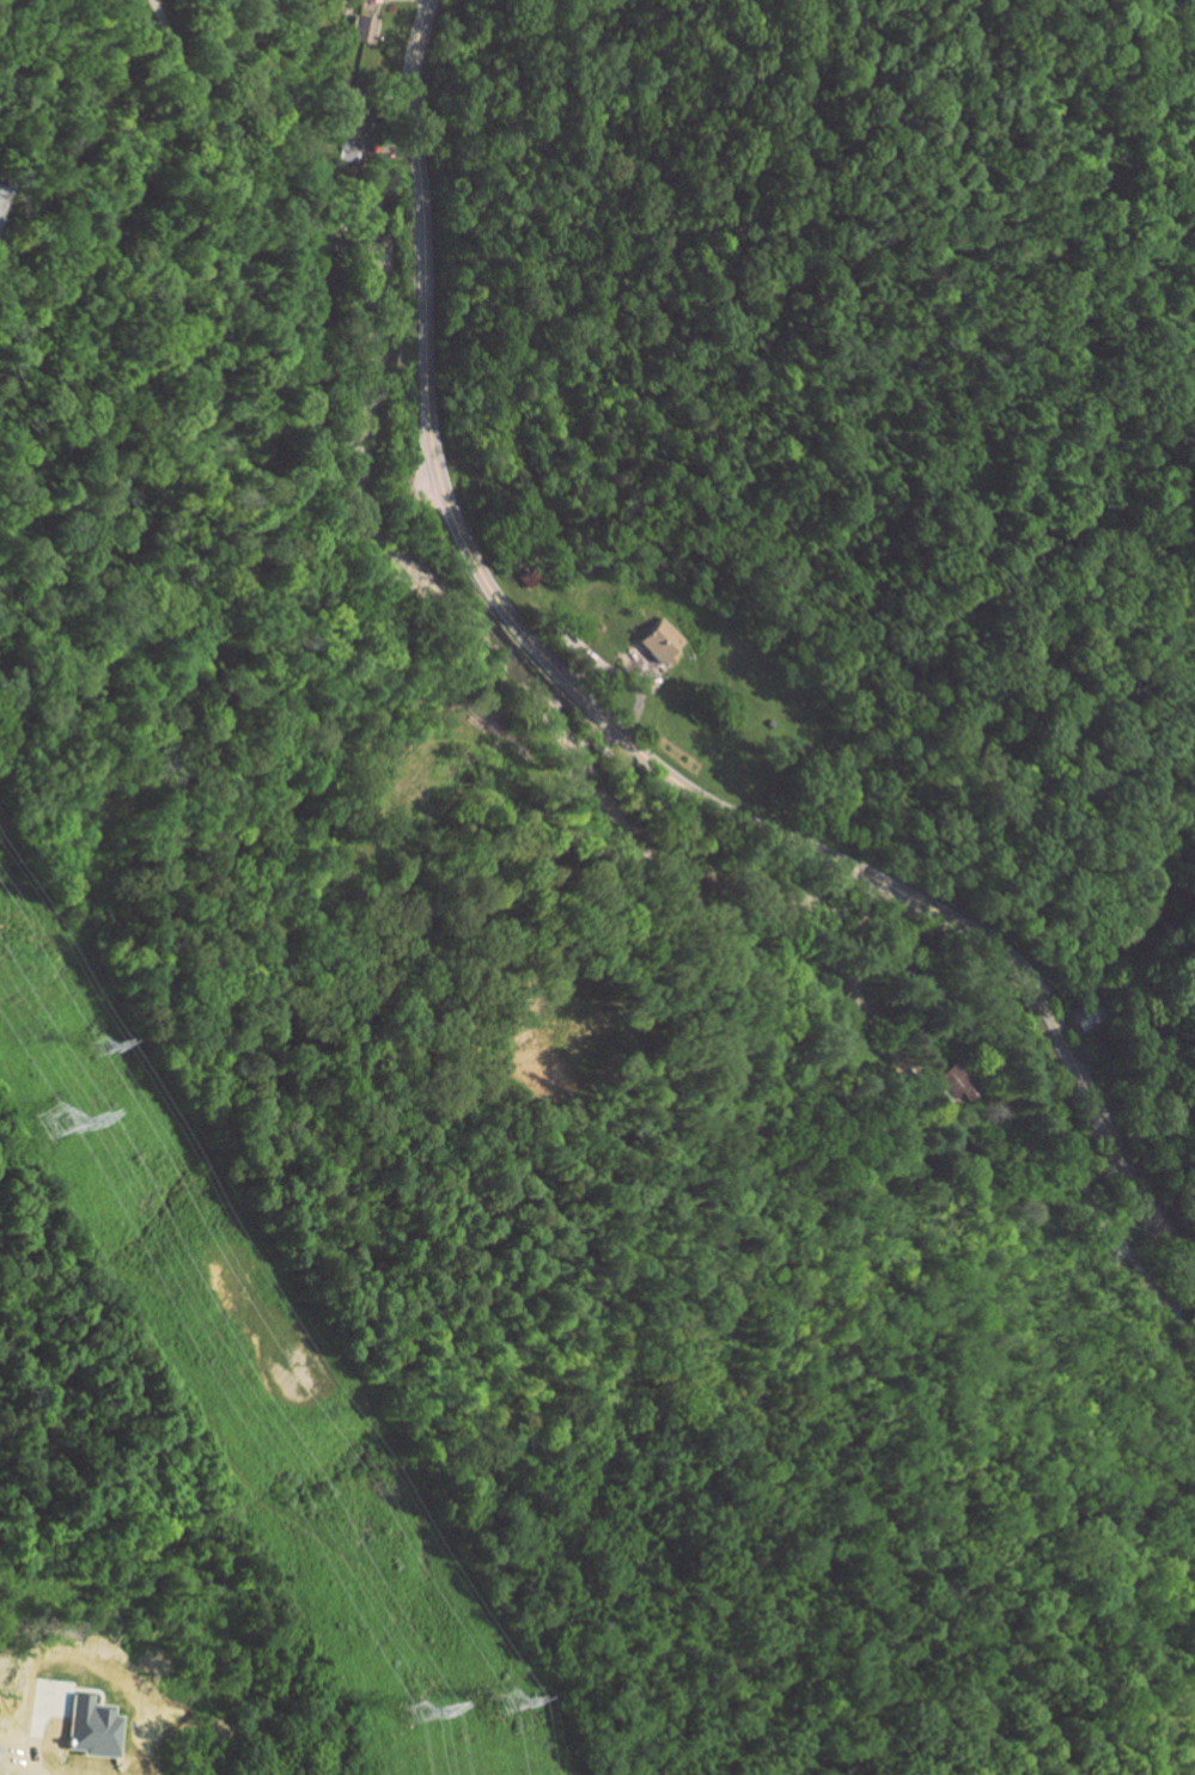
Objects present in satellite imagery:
road: (169, 47)
road: (145, 170)
building: (663, 640)
road: (627, 740)
building: (1089, 1013)
power tower: (98, 1048)
power tower: (51, 1121)
power tower: (508, 1702)
building: (60, 1709)
power tower: (414, 1712)
building: (91, 1728)
road: (33, 1751)

